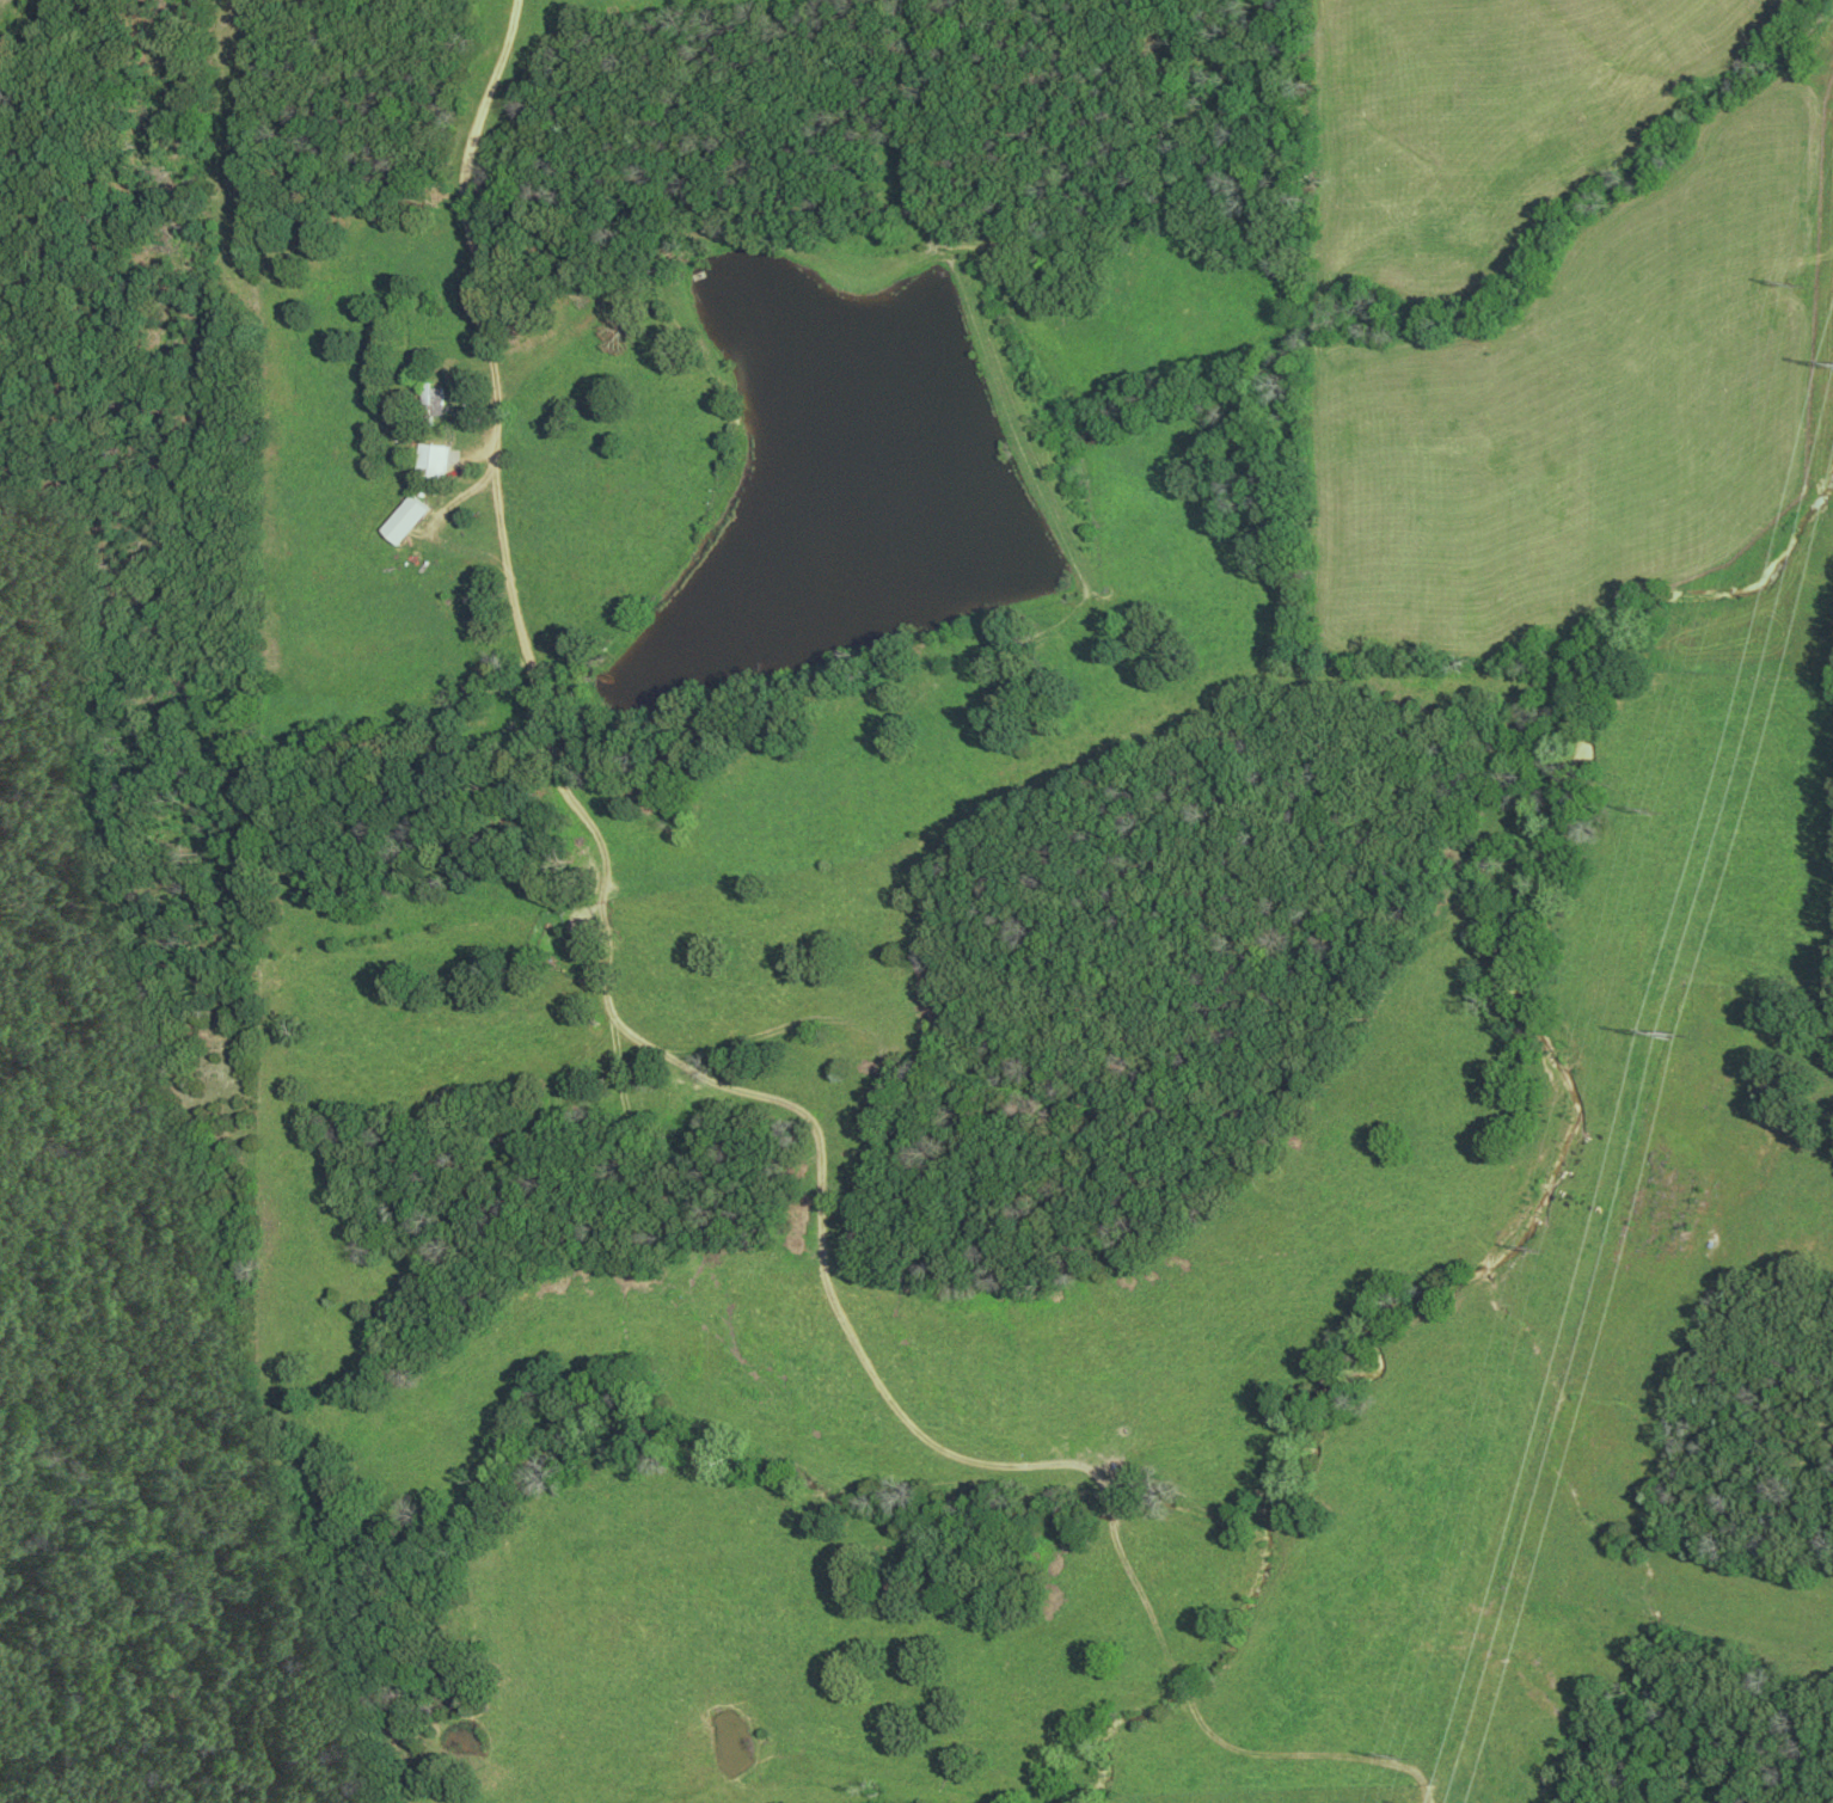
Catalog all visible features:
road: (491, 360)
building: (430, 400)
building: (429, 461)
building: (403, 519)
power tower: (1670, 1035)
power tower: (1454, 1798)

